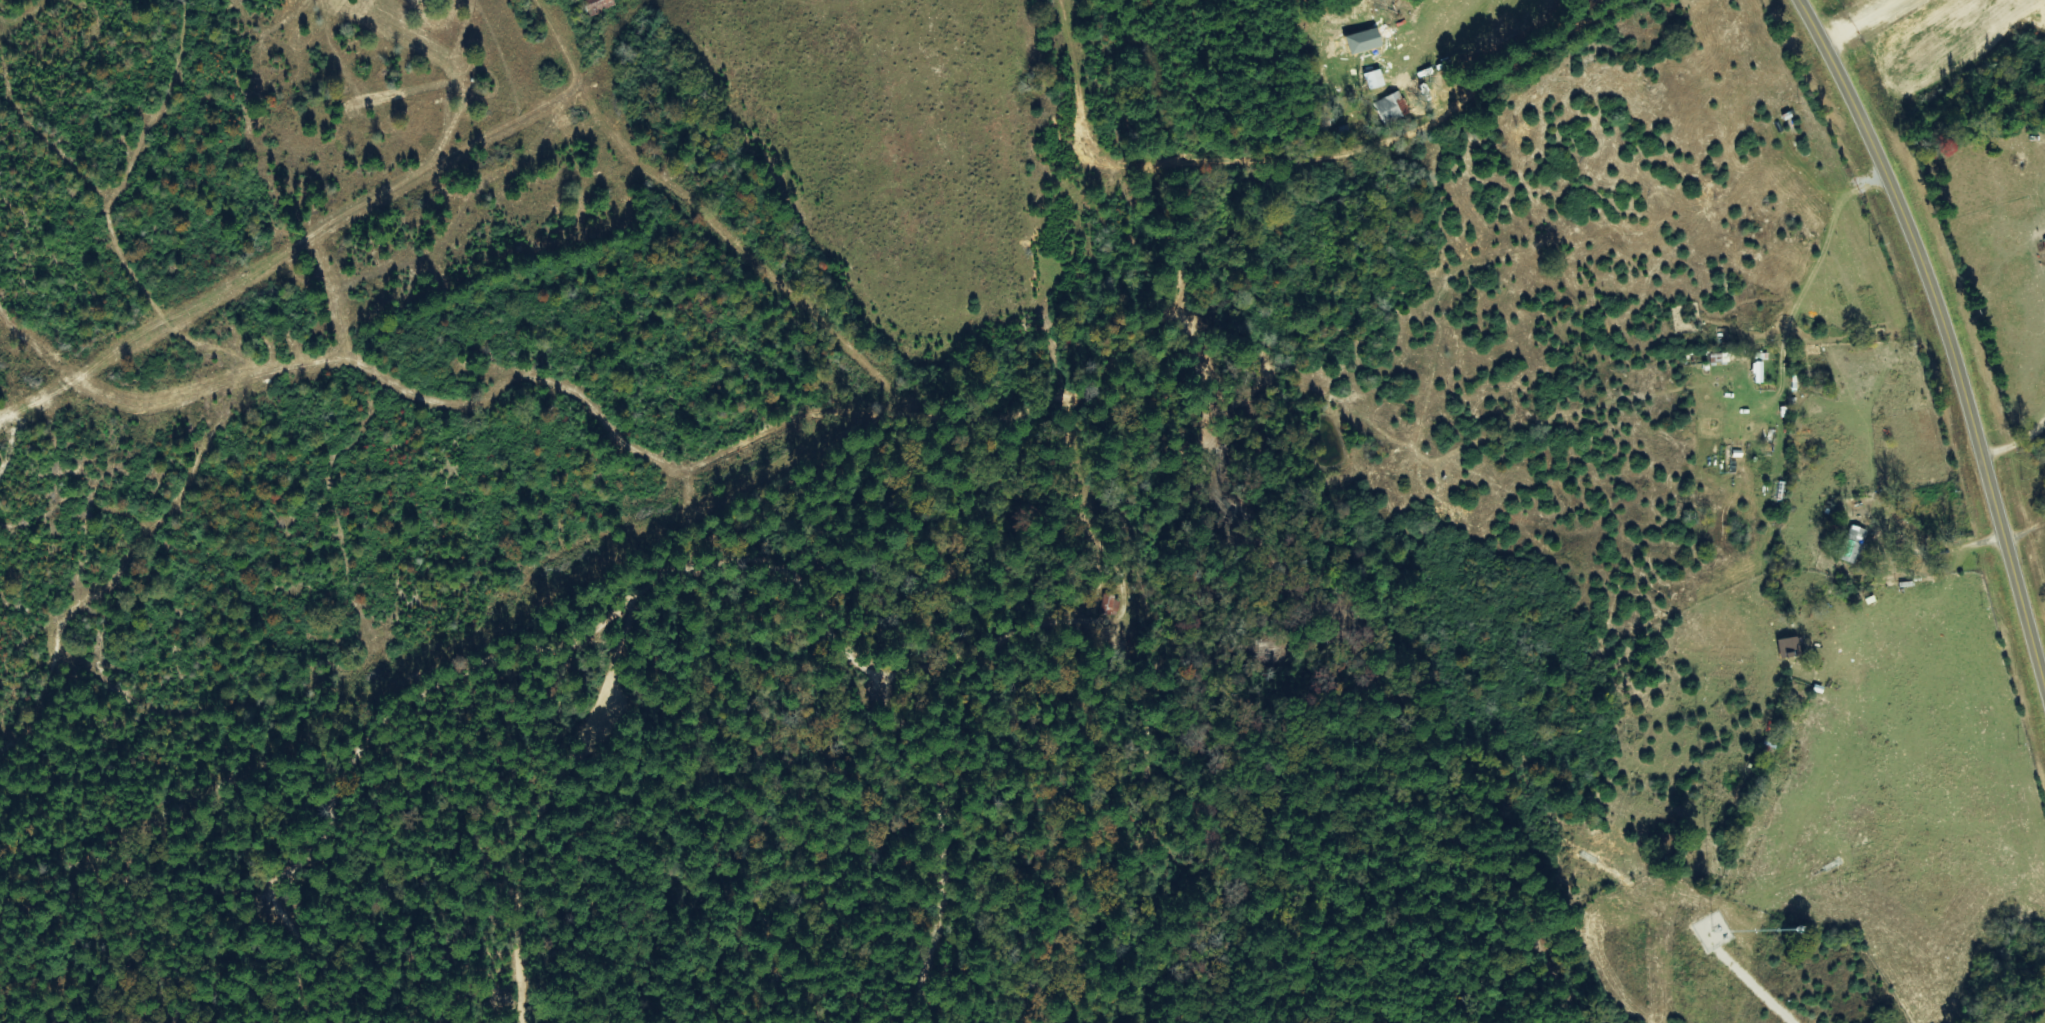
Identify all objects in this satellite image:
building: (598, 6)
building: (1375, 80)
building: (1391, 108)
road: (1946, 335)
building: (1758, 372)
road: (1091, 417)
building: (1852, 543)
road: (2024, 1009)

